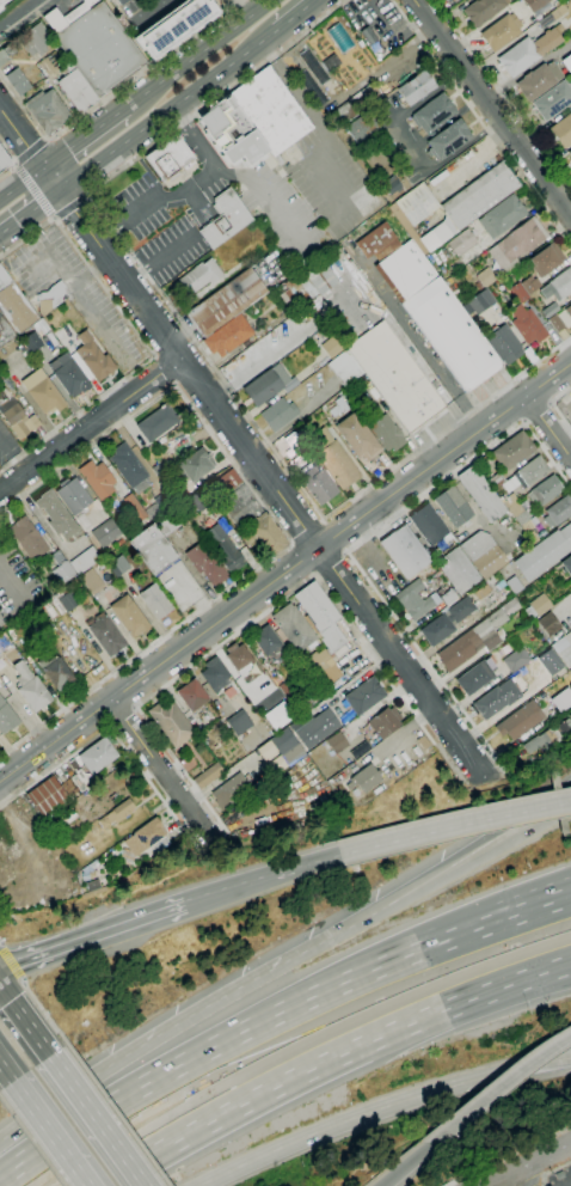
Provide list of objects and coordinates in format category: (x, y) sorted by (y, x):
building: (121, 1)
building: (1, 4)
building: (534, 4)
road: (148, 10)
building: (483, 10)
road: (235, 11)
road: (295, 16)
building: (552, 16)
building: (173, 26)
building: (501, 31)
building: (338, 37)
building: (369, 37)
building: (36, 39)
building: (94, 45)
building: (528, 51)
building: (6, 53)
road: (198, 54)
building: (331, 62)
building: (566, 62)
building: (18, 80)
building: (538, 80)
building: (75, 87)
building: (416, 87)
road: (109, 93)
road: (503, 93)
building: (553, 99)
building: (352, 105)
road: (492, 108)
building: (47, 111)
road: (167, 111)
building: (270, 111)
building: (432, 114)
road: (315, 118)
road: (481, 123)
building: (363, 128)
building: (563, 132)
building: (232, 133)
road: (84, 137)
road: (47, 140)
building: (448, 140)
road: (197, 147)
road: (30, 149)
road: (31, 151)
road: (8, 152)
building: (570, 153)
building: (170, 159)
building: (4, 160)
road: (17, 164)
road: (16, 166)
road: (7, 170)
road: (20, 184)
road: (198, 184)
building: (392, 184)
road: (33, 190)
building: (479, 195)
road: (274, 202)
road: (72, 204)
road: (29, 212)
road: (135, 213)
building: (502, 215)
road: (53, 216)
road: (55, 218)
building: (419, 218)
building: (225, 219)
road: (26, 237)
building: (238, 242)
building: (376, 242)
building: (461, 242)
building: (517, 242)
building: (545, 258)
building: (405, 271)
building: (199, 276)
building: (321, 277)
road: (66, 280)
building: (528, 283)
building: (558, 286)
building: (483, 292)
building: (520, 292)
building: (294, 295)
building: (51, 298)
building: (226, 302)
building: (14, 305)
building: (569, 311)
building: (554, 319)
building: (526, 324)
building: (5, 331)
building: (345, 335)
building: (452, 335)
building: (228, 336)
building: (31, 341)
road: (171, 343)
building: (504, 343)
building: (332, 347)
road: (201, 349)
building: (93, 357)
road: (147, 363)
building: (345, 368)
road: (165, 371)
road: (185, 371)
road: (192, 372)
building: (68, 375)
building: (395, 378)
building: (265, 385)
building: (43, 392)
road: (553, 406)
road: (538, 414)
building: (280, 415)
building: (14, 416)
building: (35, 421)
building: (156, 422)
road: (88, 427)
road: (547, 428)
building: (387, 433)
building: (356, 436)
building: (512, 451)
road: (13, 452)
road: (444, 456)
building: (334, 459)
building: (128, 465)
building: (195, 465)
building: (156, 470)
building: (529, 472)
building: (97, 478)
building: (227, 483)
building: (318, 484)
building: (545, 491)
building: (481, 494)
building: (179, 495)
building: (73, 496)
building: (198, 502)
building: (161, 506)
building: (558, 512)
building: (521, 514)
building: (56, 515)
building: (424, 515)
building: (170, 520)
building: (241, 520)
building: (84, 522)
road: (275, 522)
road: (307, 532)
building: (105, 533)
road: (336, 536)
building: (27, 538)
road: (360, 543)
building: (225, 549)
building: (153, 550)
building: (483, 554)
building: (545, 554)
road: (302, 560)
building: (85, 561)
road: (330, 563)
building: (205, 564)
building: (567, 564)
building: (117, 567)
building: (410, 570)
building: (458, 570)
building: (63, 571)
building: (92, 581)
building: (514, 585)
parking lot: (179, 587)
building: (479, 592)
building: (448, 598)
building: (66, 599)
building: (155, 600)
road: (271, 606)
building: (539, 606)
building: (49, 610)
building: (320, 615)
building: (129, 616)
building: (447, 620)
building: (549, 624)
building: (294, 628)
building: (105, 632)
building: (477, 637)
building: (4, 641)
building: (270, 644)
building: (559, 644)
building: (0, 654)
building: (238, 656)
building: (517, 658)
road: (159, 664)
road: (401, 664)
building: (551, 664)
building: (323, 666)
building: (22, 673)
building: (56, 673)
building: (215, 674)
building: (477, 675)
building: (334, 684)
building: (33, 695)
building: (192, 696)
building: (364, 696)
building: (303, 698)
building: (496, 699)
building: (561, 699)
road: (134, 708)
building: (569, 715)
building: (280, 716)
building: (6, 717)
road: (121, 717)
building: (520, 721)
building: (171, 722)
building: (239, 722)
building: (385, 722)
building: (312, 726)
road: (404, 728)
road: (111, 729)
building: (548, 736)
building: (337, 742)
building: (287, 746)
building: (98, 756)
road: (162, 772)
building: (208, 776)
building: (364, 778)
building: (81, 781)
building: (67, 785)
building: (231, 791)
building: (48, 797)
building: (557, 802)
building: (117, 813)
road: (454, 826)
building: (146, 837)
road: (468, 848)
building: (125, 856)
road: (469, 863)
building: (86, 876)
road: (260, 876)
road: (533, 907)
road: (91, 936)
road: (11, 962)
road: (23, 982)
road: (44, 1013)
road: (24, 1017)
road: (179, 1021)
road: (239, 1033)
road: (569, 1057)
road: (569, 1057)
road: (330, 1059)
road: (5, 1072)
road: (498, 1086)
road: (377, 1108)
road: (117, 1114)
road: (97, 1120)
road: (48, 1133)
road: (31, 1142)
road: (509, 1155)
road: (404, 1163)
road: (527, 1164)
road: (553, 1172)
road: (524, 1175)
road: (542, 1176)
road: (533, 1181)

